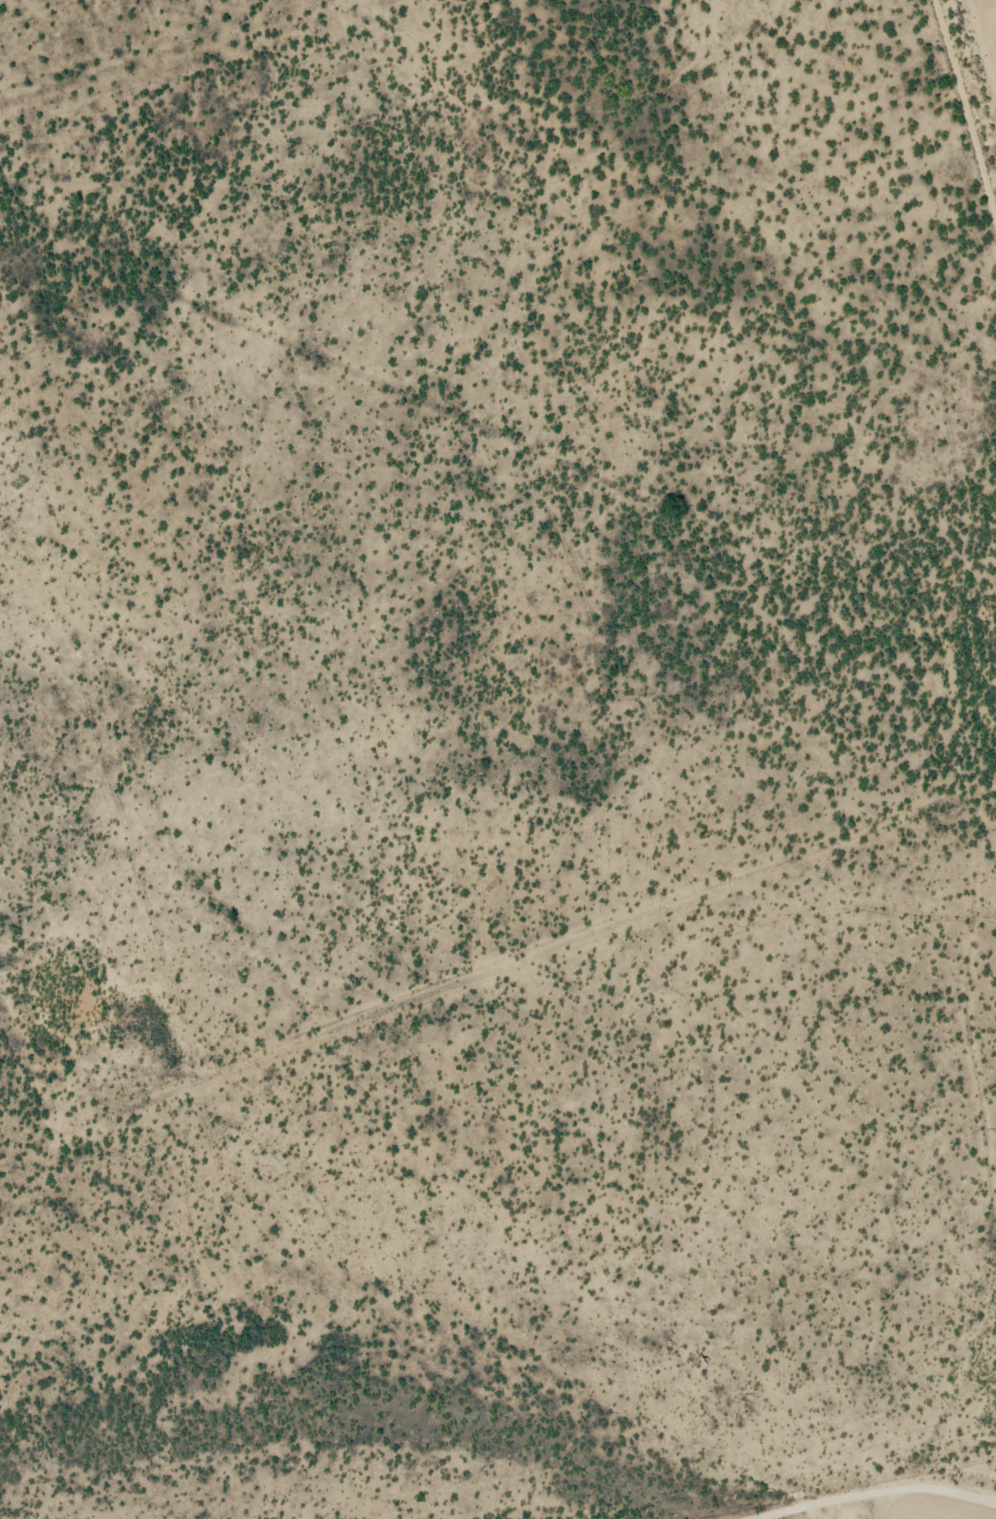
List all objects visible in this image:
river: (331, 1446)

